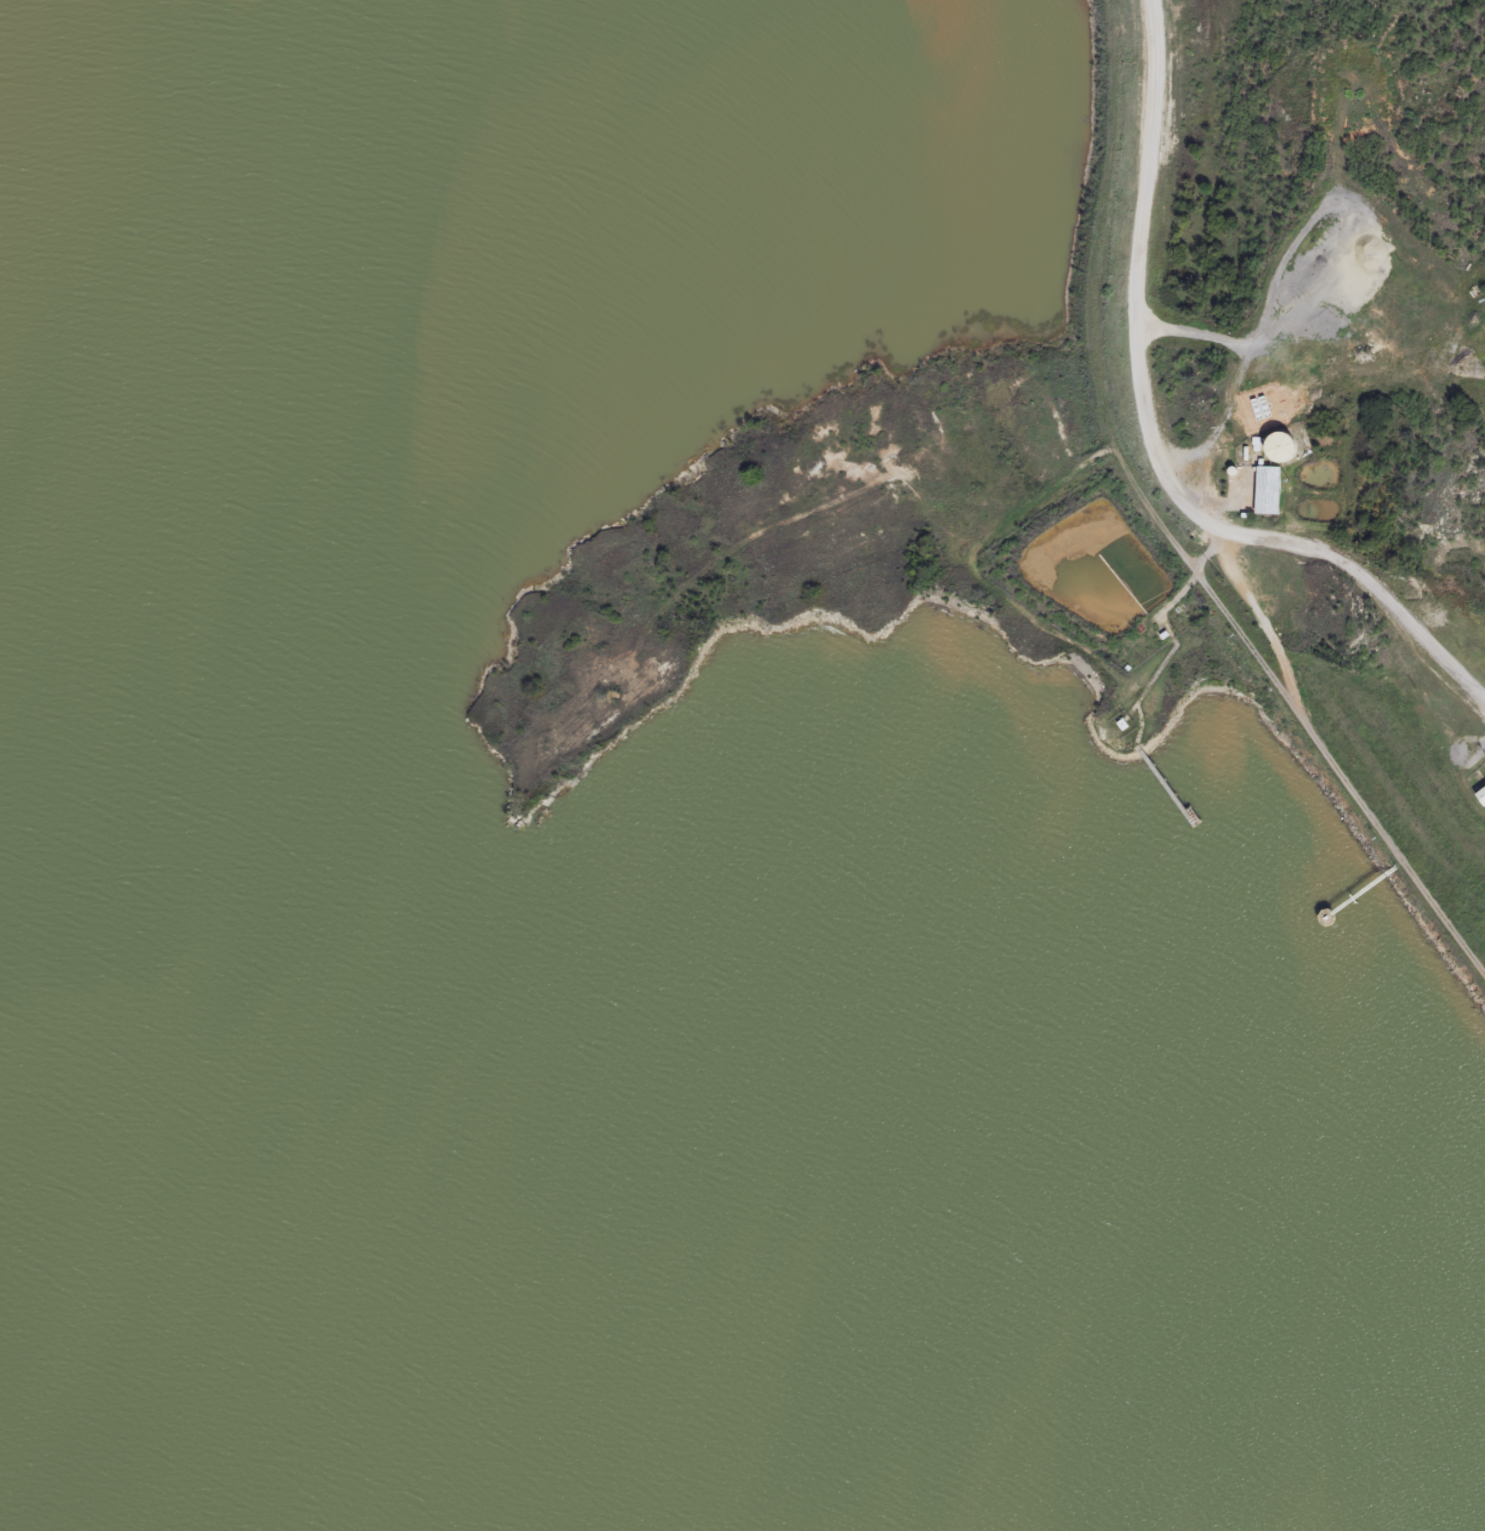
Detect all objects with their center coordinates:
road: (1161, 435)
building: (1277, 445)
road: (1216, 478)
building: (1265, 489)
road: (1245, 496)
building: (1480, 795)

